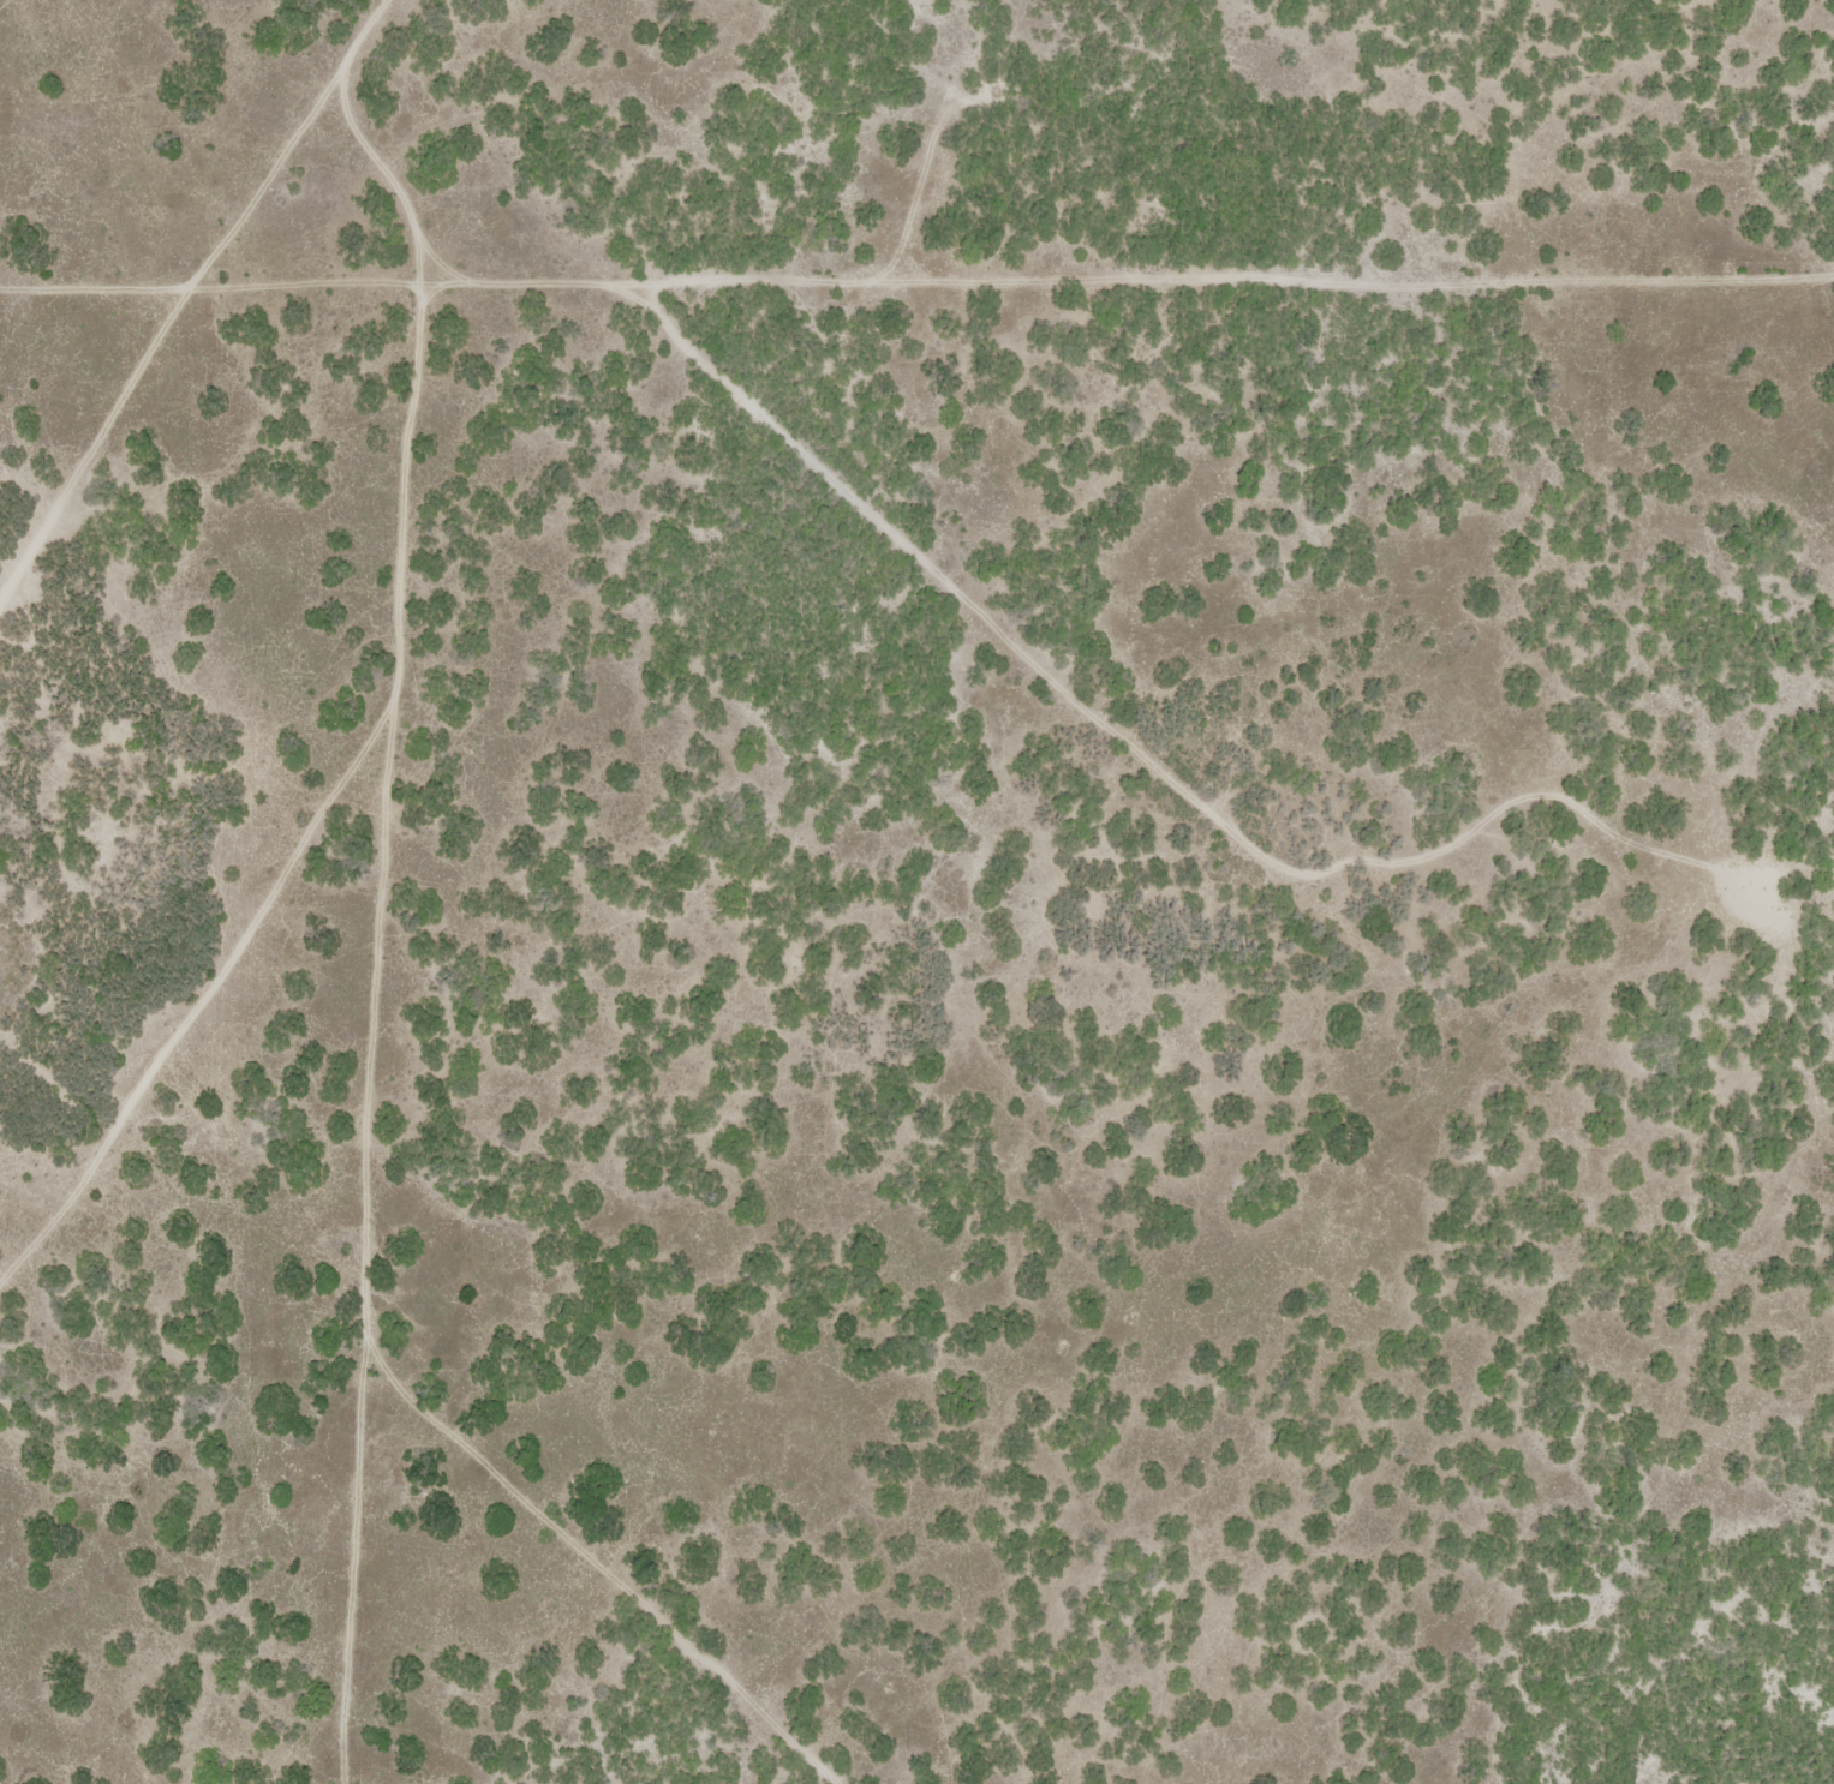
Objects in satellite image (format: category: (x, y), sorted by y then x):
road: (213, 52)
road: (309, 62)
road: (374, 789)
road: (175, 1076)

